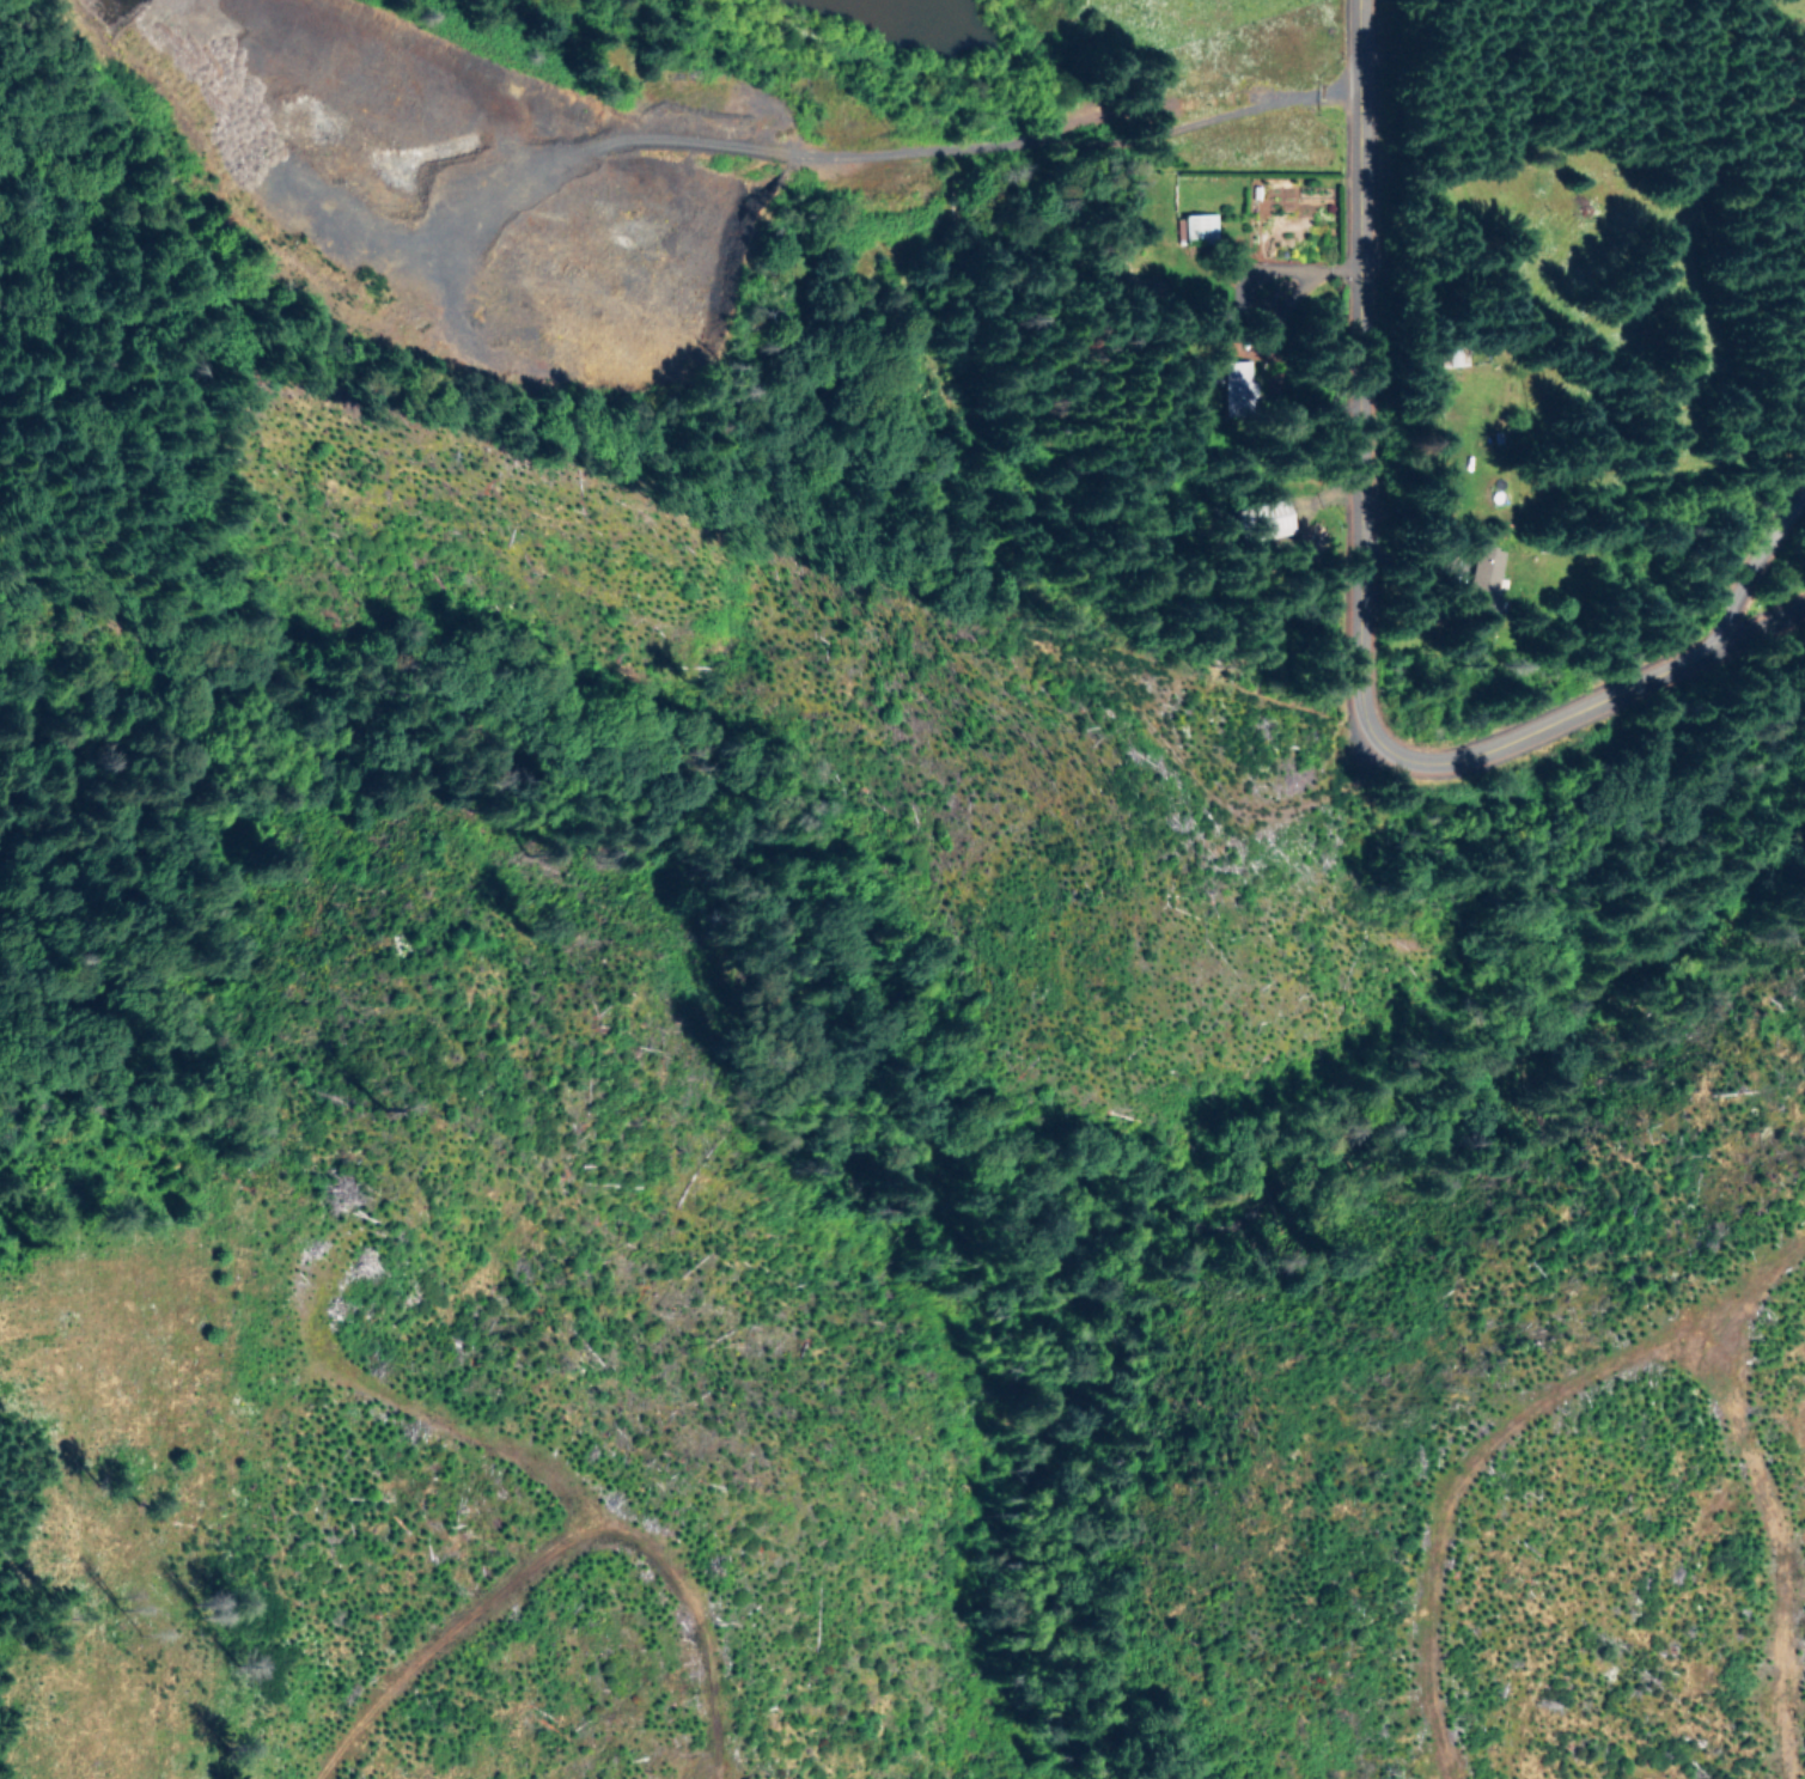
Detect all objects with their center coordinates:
road: (1748, 544)
road: (1365, 589)

